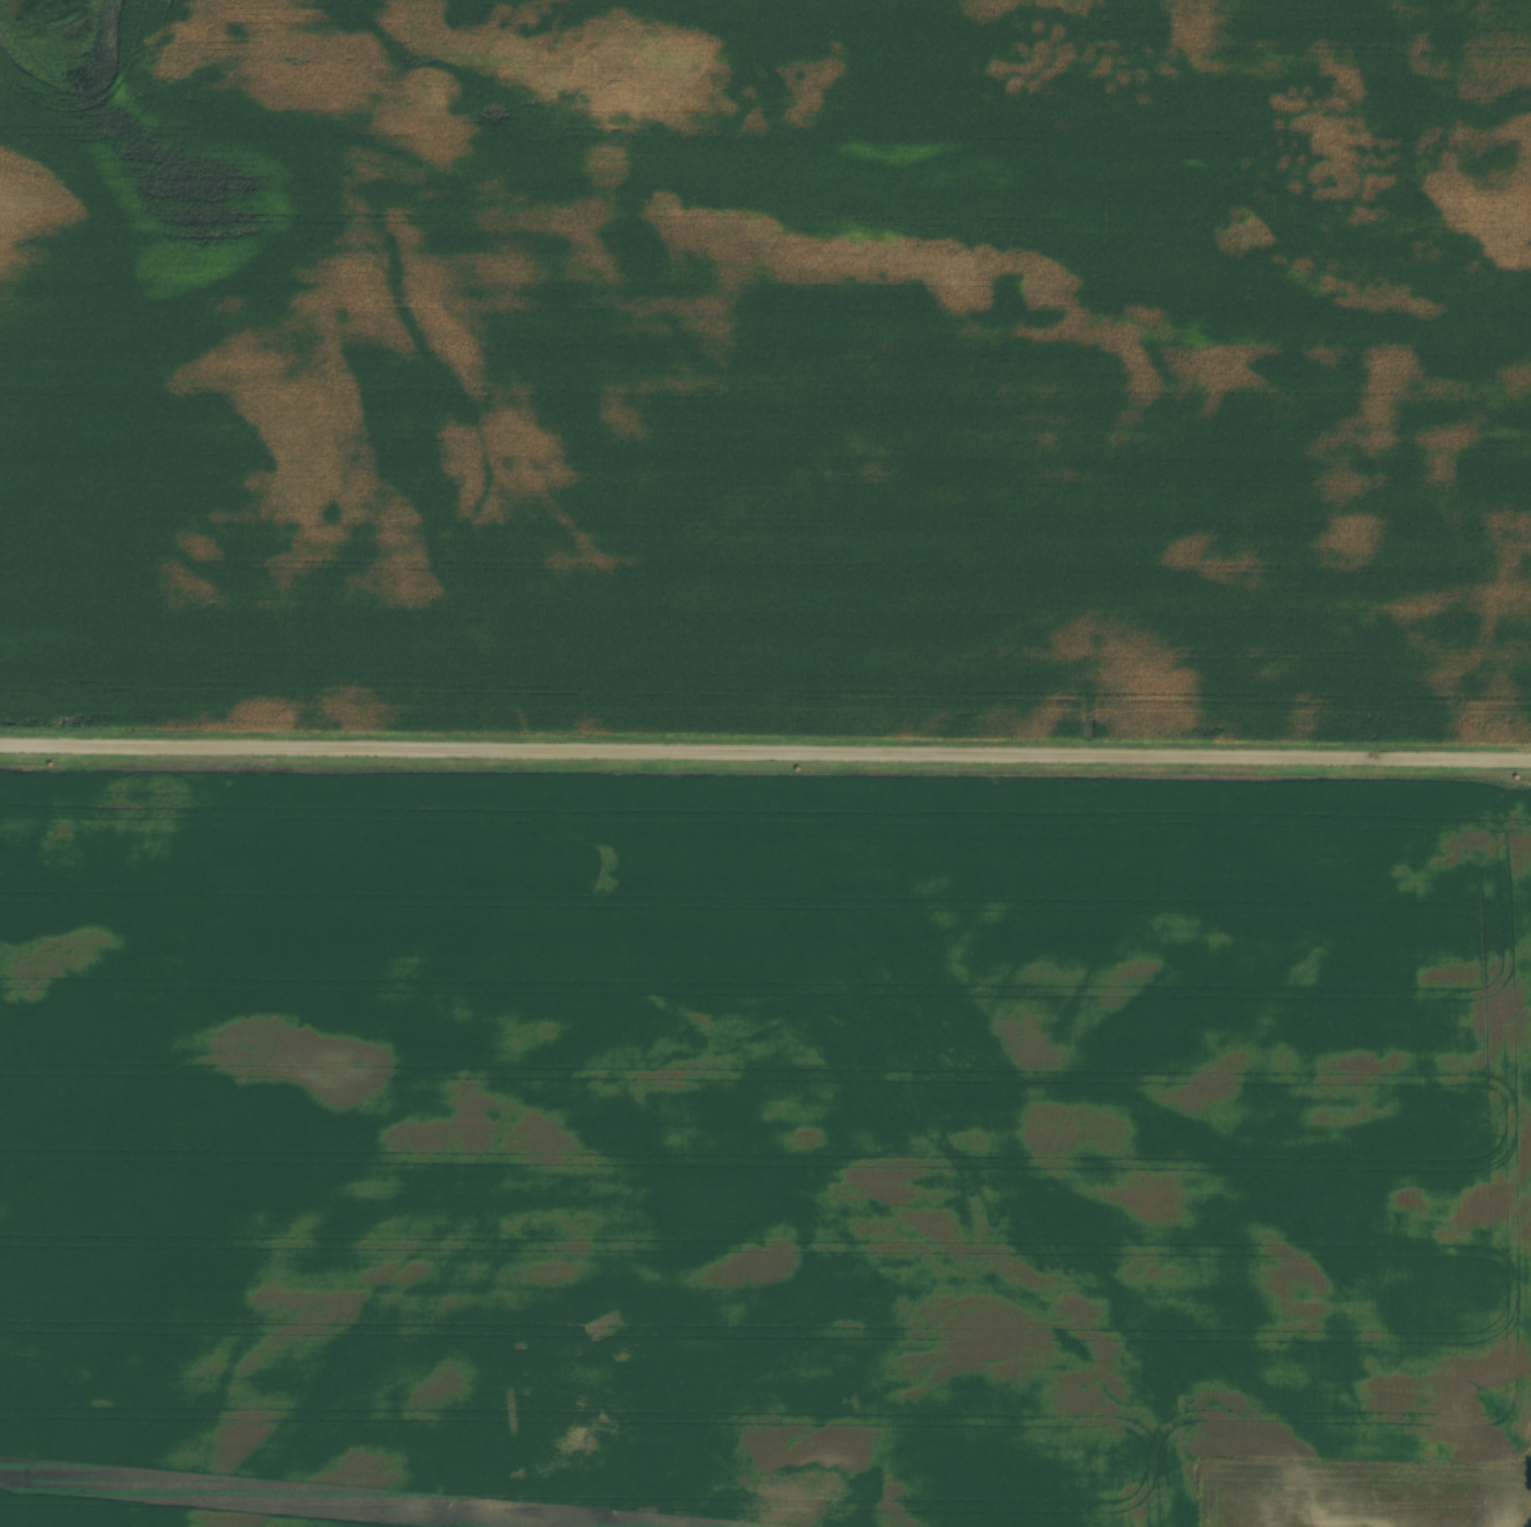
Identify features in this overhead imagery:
road: (765, 755)

